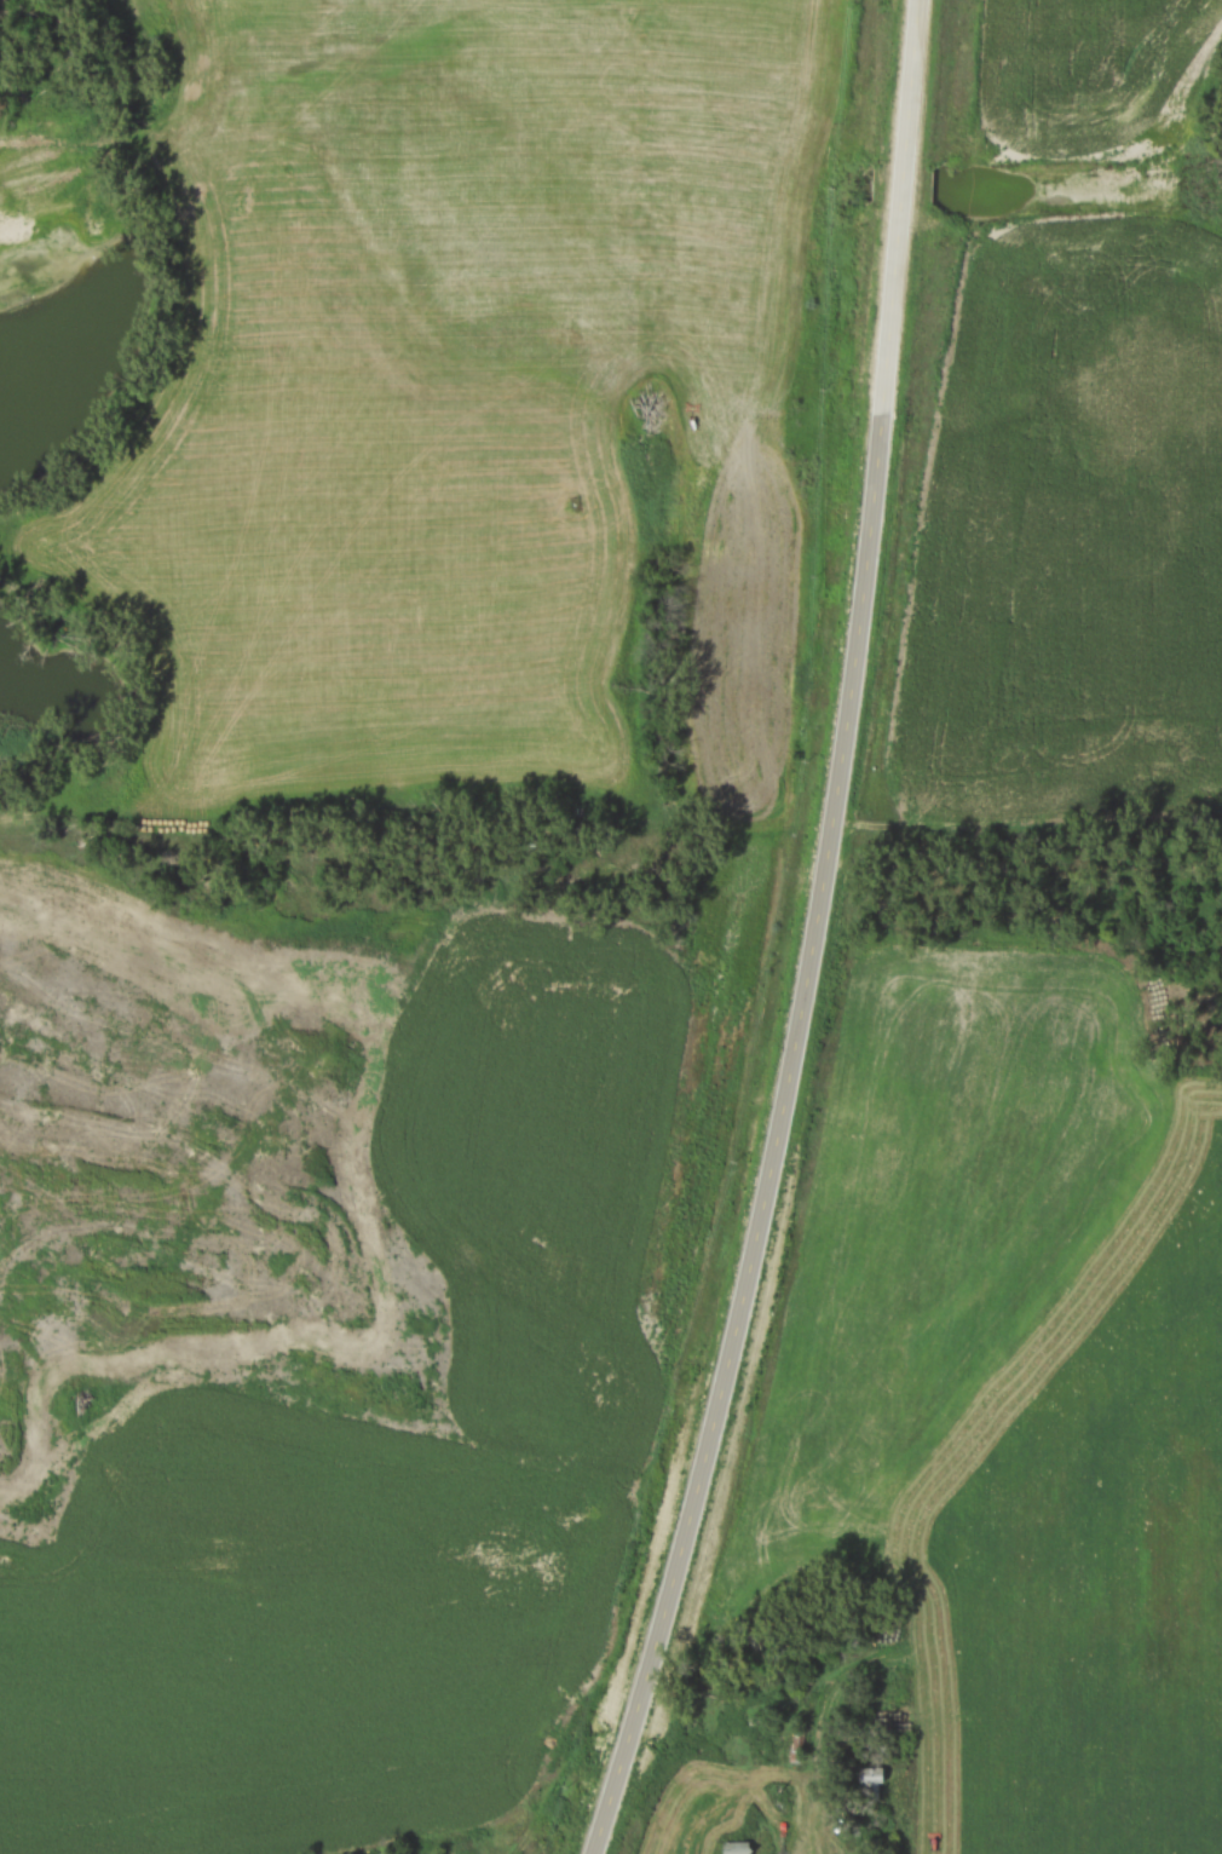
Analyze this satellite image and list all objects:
road: (815, 938)
building: (796, 1743)
building: (865, 1785)
road: (720, 1795)
building: (731, 1852)

